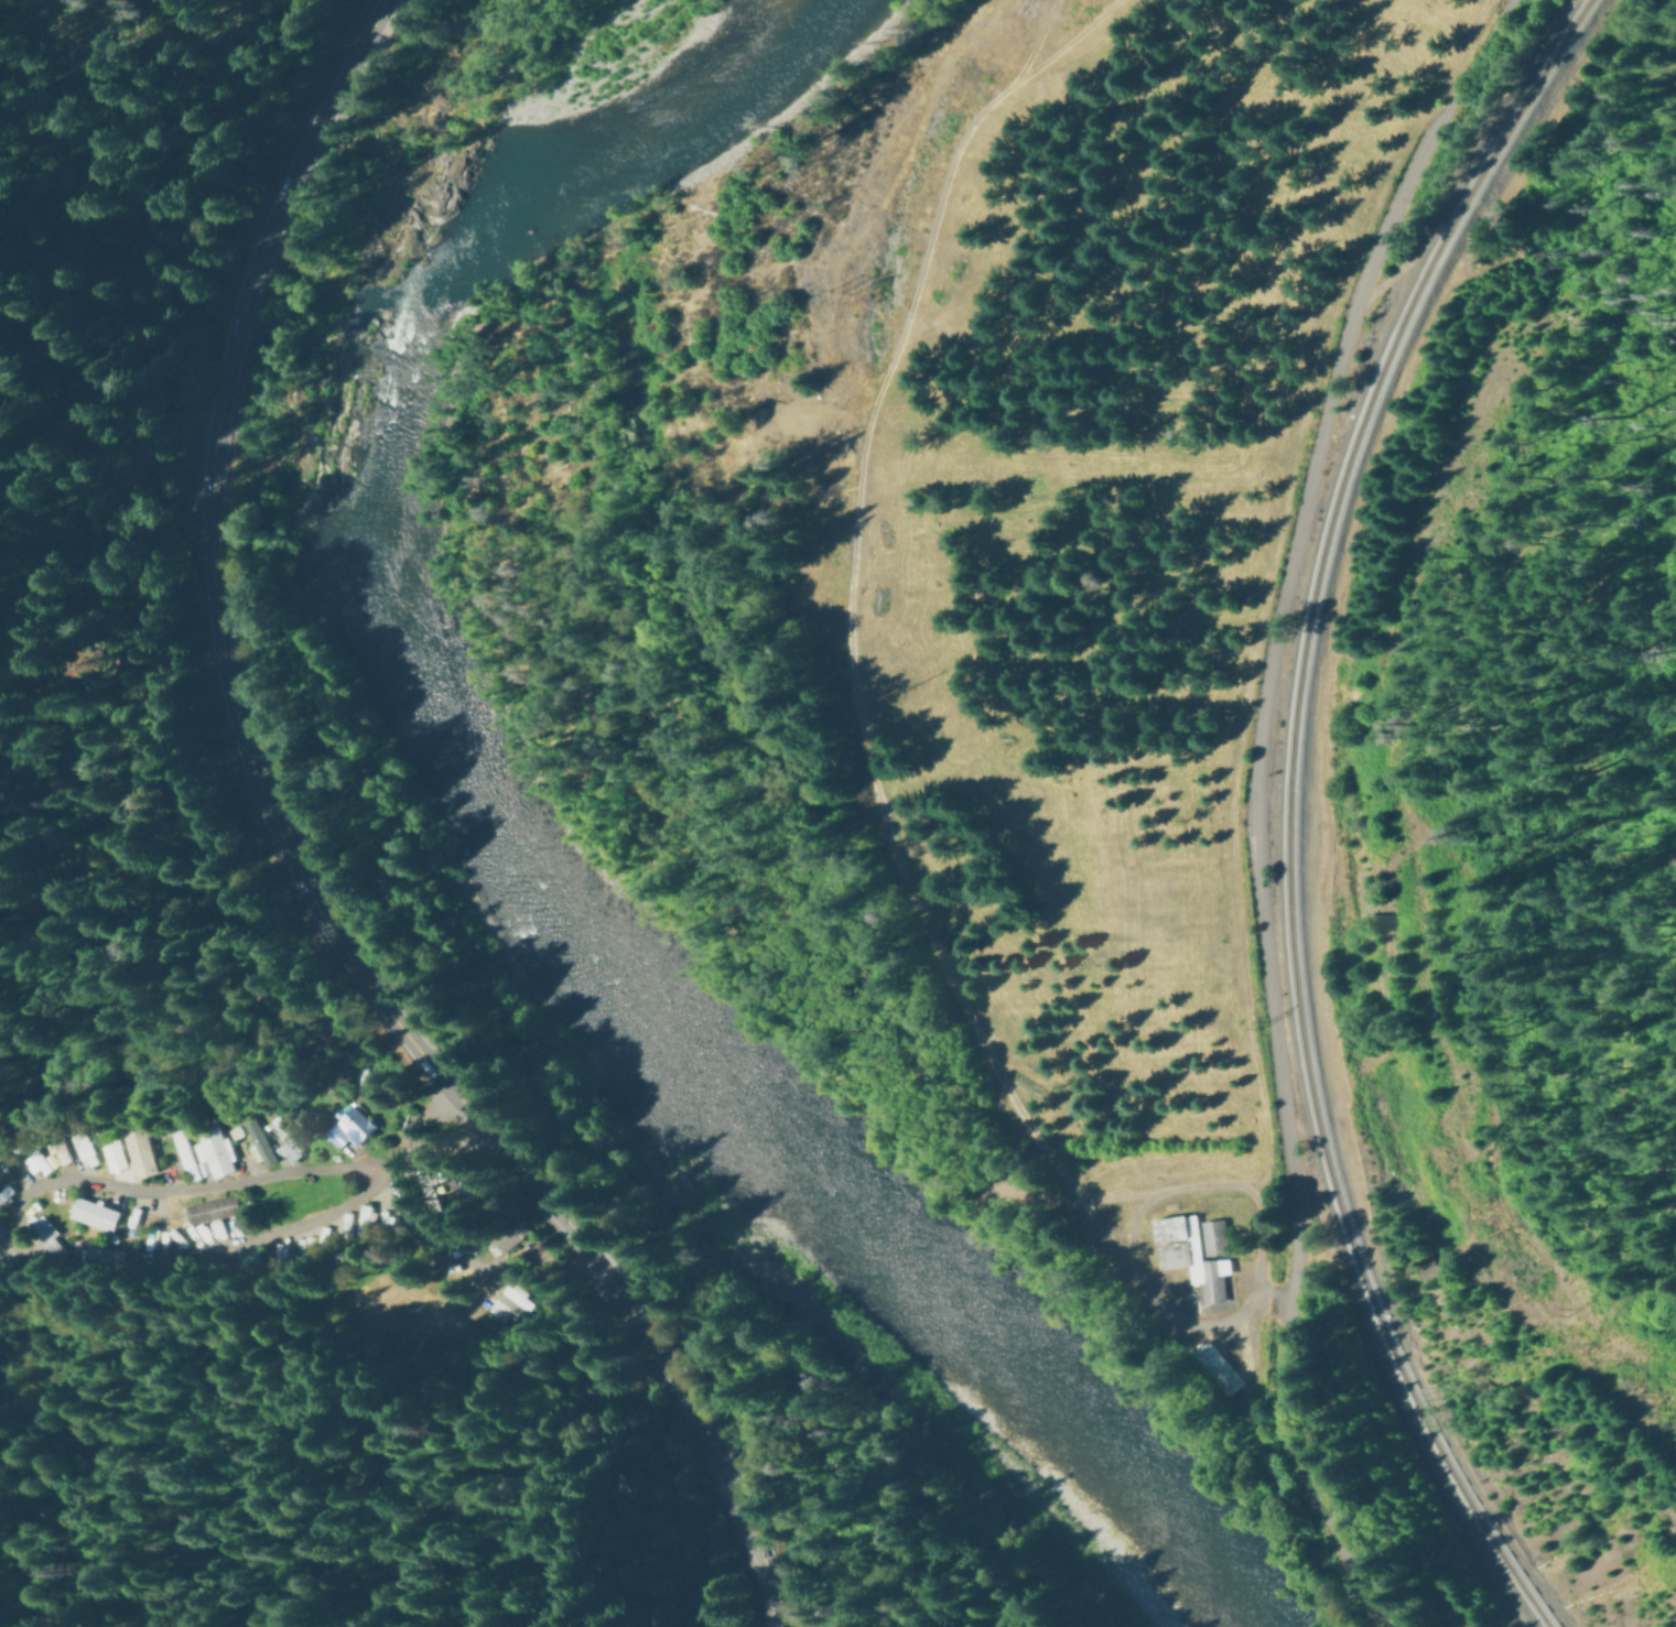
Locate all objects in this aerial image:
road: (1253, 805)
railway: (1288, 809)
river: (513, 849)
road: (293, 864)
building: (263, 1127)
building: (347, 1129)
building: (233, 1132)
building: (283, 1140)
building: (257, 1146)
building: (80, 1148)
building: (212, 1149)
building: (115, 1151)
building: (57, 1152)
building: (138, 1152)
building: (182, 1156)
building: (33, 1160)
building: (451, 1167)
building: (429, 1184)
building: (3, 1194)
building: (400, 1201)
building: (210, 1210)
building: (93, 1215)
building: (360, 1223)
building: (45, 1234)
road: (9, 1237)
building: (502, 1238)
building: (39, 1245)
building: (1189, 1254)
building: (99, 1257)
building: (513, 1298)
building: (498, 1310)
building: (1218, 1367)
road: (397, 1420)

